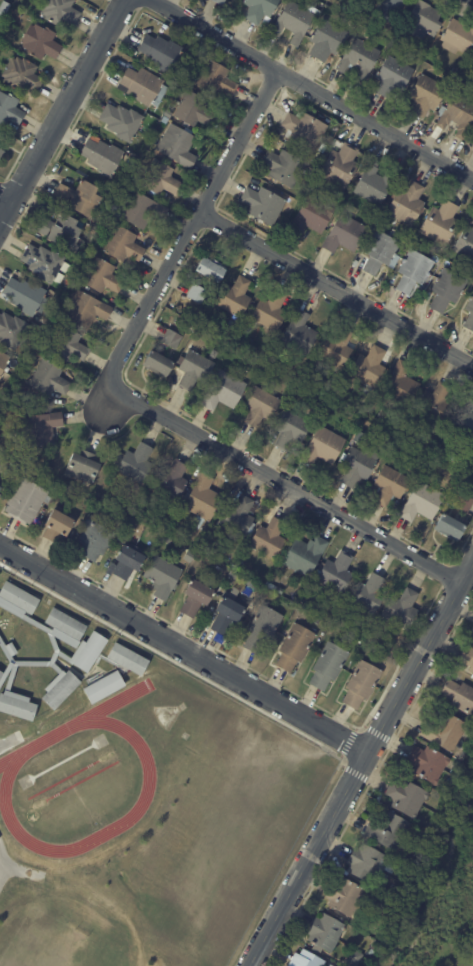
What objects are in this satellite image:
building: (219, 2)
building: (3, 9)
building: (259, 9)
building: (387, 9)
building: (15, 10)
building: (60, 12)
building: (357, 12)
building: (424, 19)
building: (293, 21)
building: (369, 24)
building: (457, 36)
building: (326, 39)
building: (40, 42)
building: (159, 51)
building: (360, 59)
building: (472, 61)
building: (22, 75)
building: (392, 76)
building: (215, 80)
building: (143, 86)
road: (312, 89)
building: (425, 95)
building: (10, 109)
building: (193, 110)
road: (62, 111)
building: (168, 114)
building: (457, 114)
building: (121, 121)
building: (304, 130)
building: (177, 146)
building: (2, 156)
building: (101, 156)
building: (131, 162)
building: (339, 165)
building: (283, 167)
building: (159, 178)
building: (374, 183)
building: (78, 198)
road: (5, 199)
building: (263, 204)
building: (406, 204)
building: (141, 210)
building: (312, 217)
building: (440, 222)
building: (60, 230)
building: (344, 235)
building: (465, 243)
building: (122, 245)
building: (381, 251)
building: (43, 262)
building: (210, 268)
building: (413, 272)
building: (102, 276)
road: (336, 288)
building: (447, 292)
building: (196, 293)
building: (23, 295)
building: (234, 297)
building: (86, 310)
building: (269, 313)
building: (469, 316)
building: (11, 331)
building: (298, 334)
building: (171, 339)
building: (67, 344)
building: (336, 348)
building: (255, 351)
building: (213, 354)
building: (3, 360)
building: (157, 363)
building: (369, 366)
building: (194, 369)
building: (0, 379)
building: (48, 379)
building: (401, 385)
building: (223, 391)
road: (130, 398)
building: (436, 404)
building: (260, 407)
building: (463, 423)
building: (41, 428)
building: (291, 430)
building: (388, 436)
building: (419, 441)
building: (323, 447)
building: (4, 461)
building: (136, 463)
building: (358, 466)
building: (82, 468)
building: (170, 480)
building: (121, 485)
building: (0, 486)
building: (390, 486)
building: (202, 499)
building: (107, 500)
building: (25, 502)
building: (422, 503)
building: (463, 503)
building: (237, 517)
building: (57, 525)
building: (449, 528)
building: (181, 530)
building: (95, 539)
building: (268, 539)
building: (304, 556)
building: (126, 561)
building: (237, 565)
building: (232, 574)
building: (335, 574)
building: (162, 576)
building: (271, 586)
building: (280, 591)
building: (17, 595)
building: (367, 595)
building: (196, 597)
building: (315, 608)
building: (402, 609)
building: (225, 615)
building: (338, 615)
building: (64, 622)
building: (262, 630)
road: (183, 648)
building: (294, 648)
building: (87, 651)
building: (127, 657)
building: (467, 657)
building: (328, 666)
building: (1, 672)
building: (361, 685)
building: (103, 686)
building: (60, 688)
building: (459, 694)
building: (16, 705)
building: (445, 731)
road: (361, 762)
building: (427, 763)
track: (8, 767)
building: (406, 797)
building: (387, 831)
building: (420, 842)
building: (364, 862)
road: (3, 874)
building: (344, 896)
building: (324, 933)
park: (58, 946)
building: (305, 959)
building: (329, 965)
building: (351, 965)

